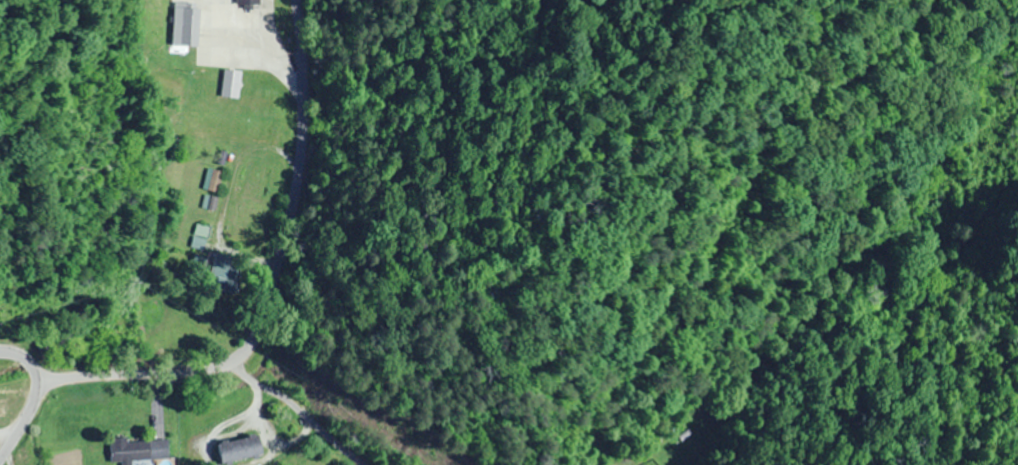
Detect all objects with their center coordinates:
building: (247, 4)
building: (185, 24)
road: (301, 25)
road: (304, 82)
road: (308, 147)
building: (213, 181)
building: (201, 237)
building: (225, 273)
road: (236, 370)
road: (32, 398)
road: (296, 415)
building: (240, 449)
building: (138, 450)

